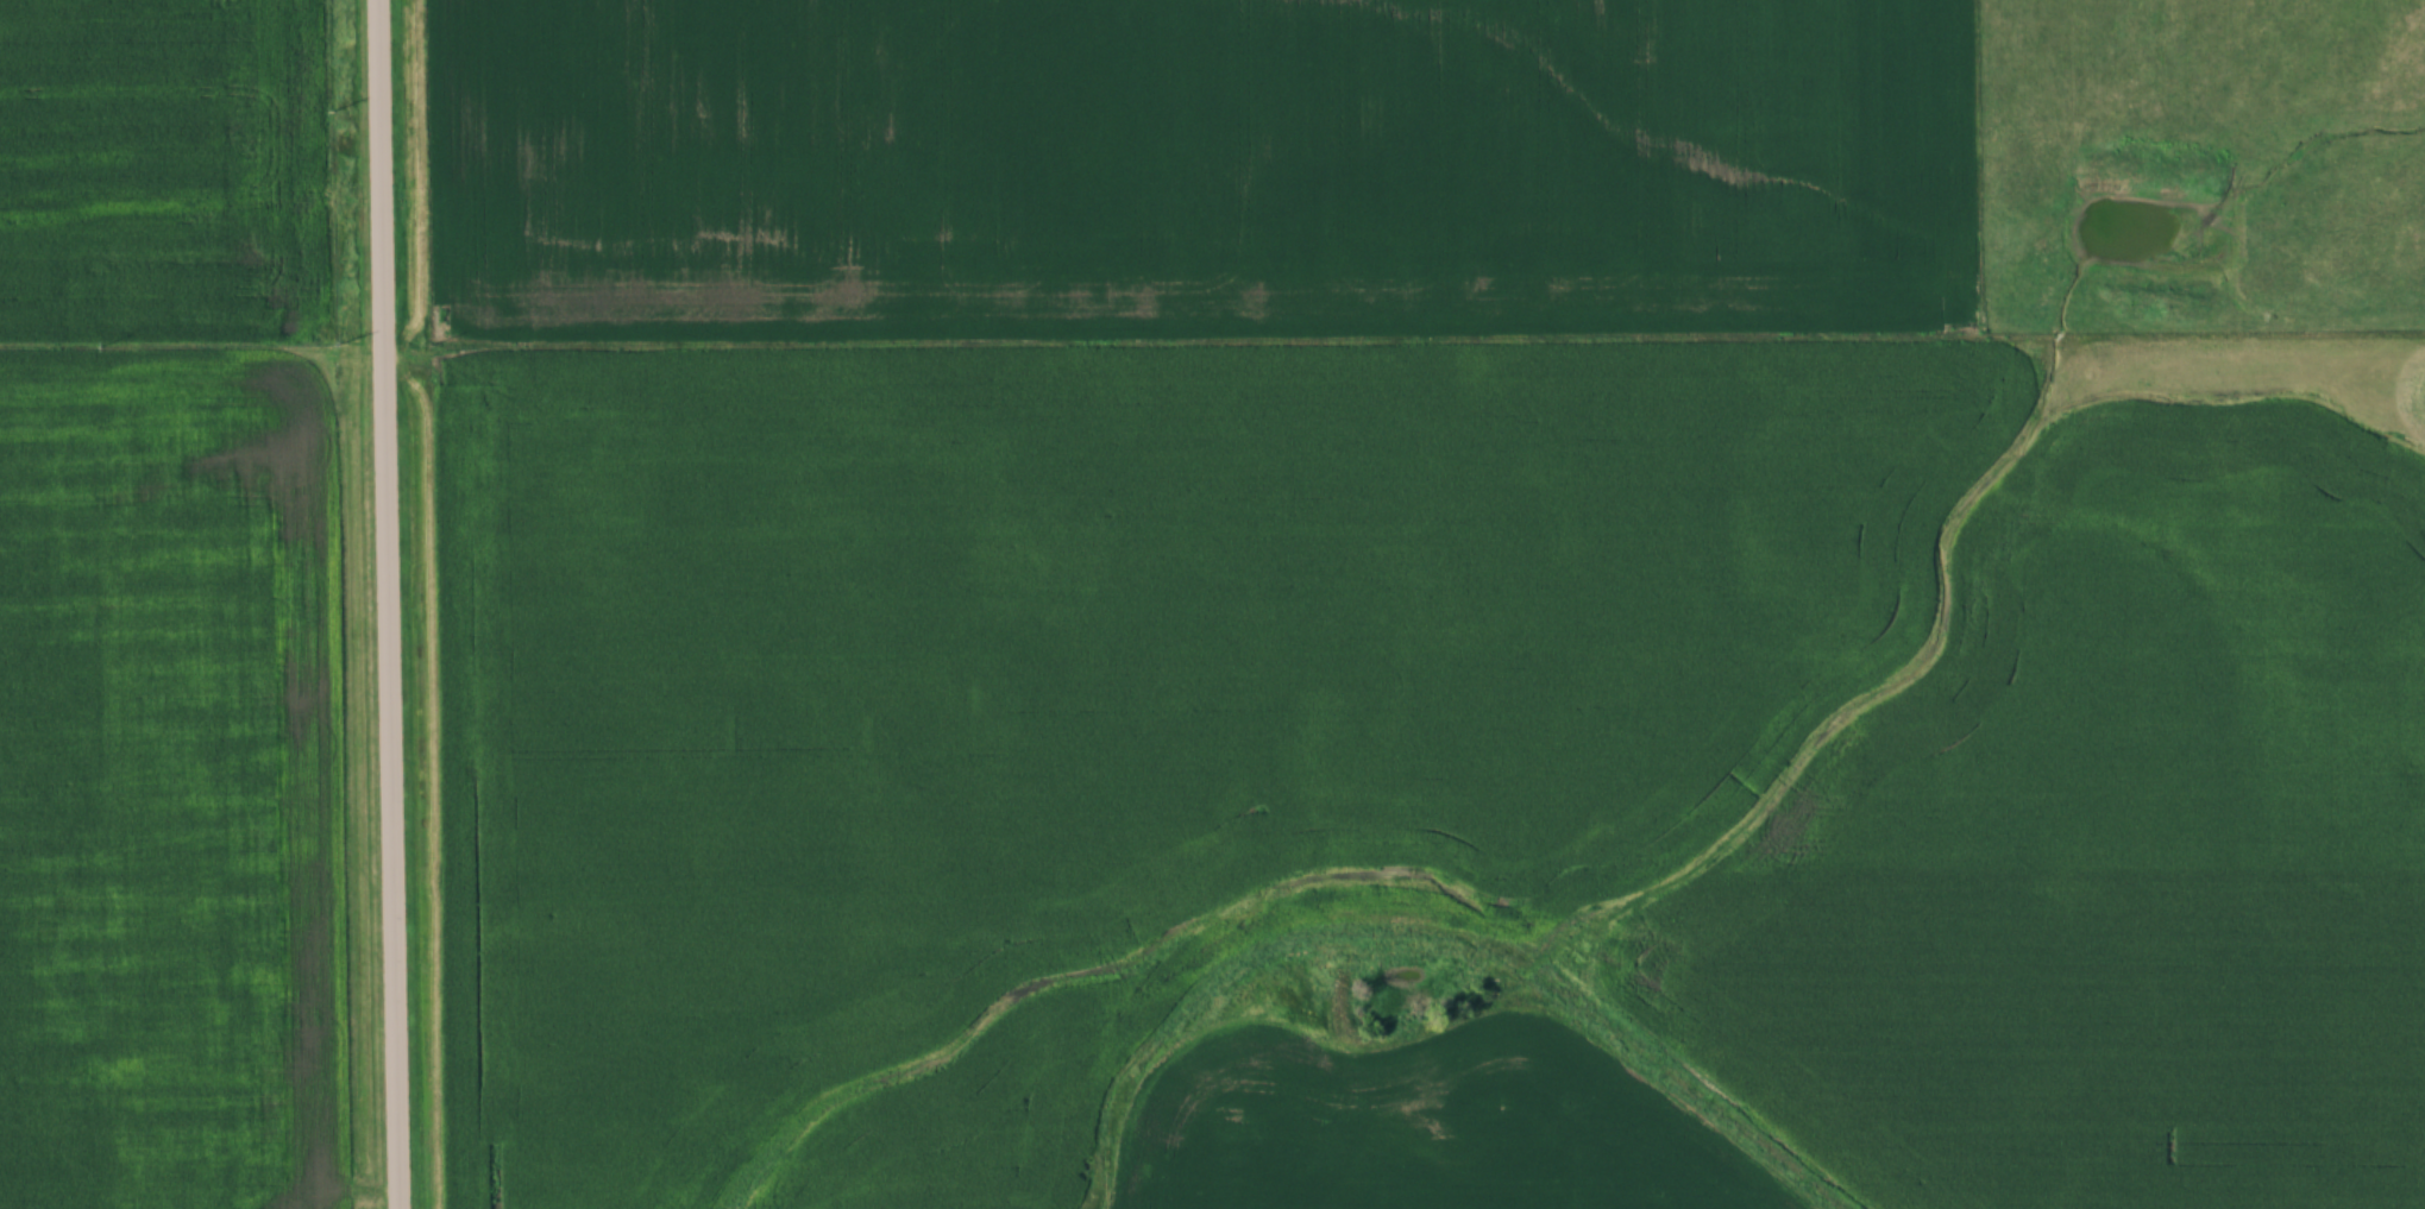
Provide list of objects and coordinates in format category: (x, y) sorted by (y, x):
road: (384, 604)

